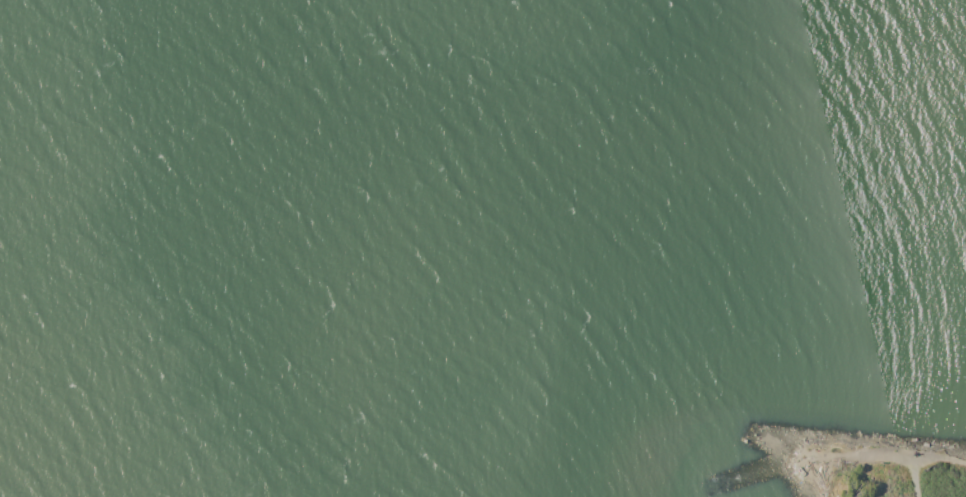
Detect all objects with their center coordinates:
road: (941, 456)
road: (857, 459)
park: (850, 466)
building: (800, 472)
road: (918, 480)

